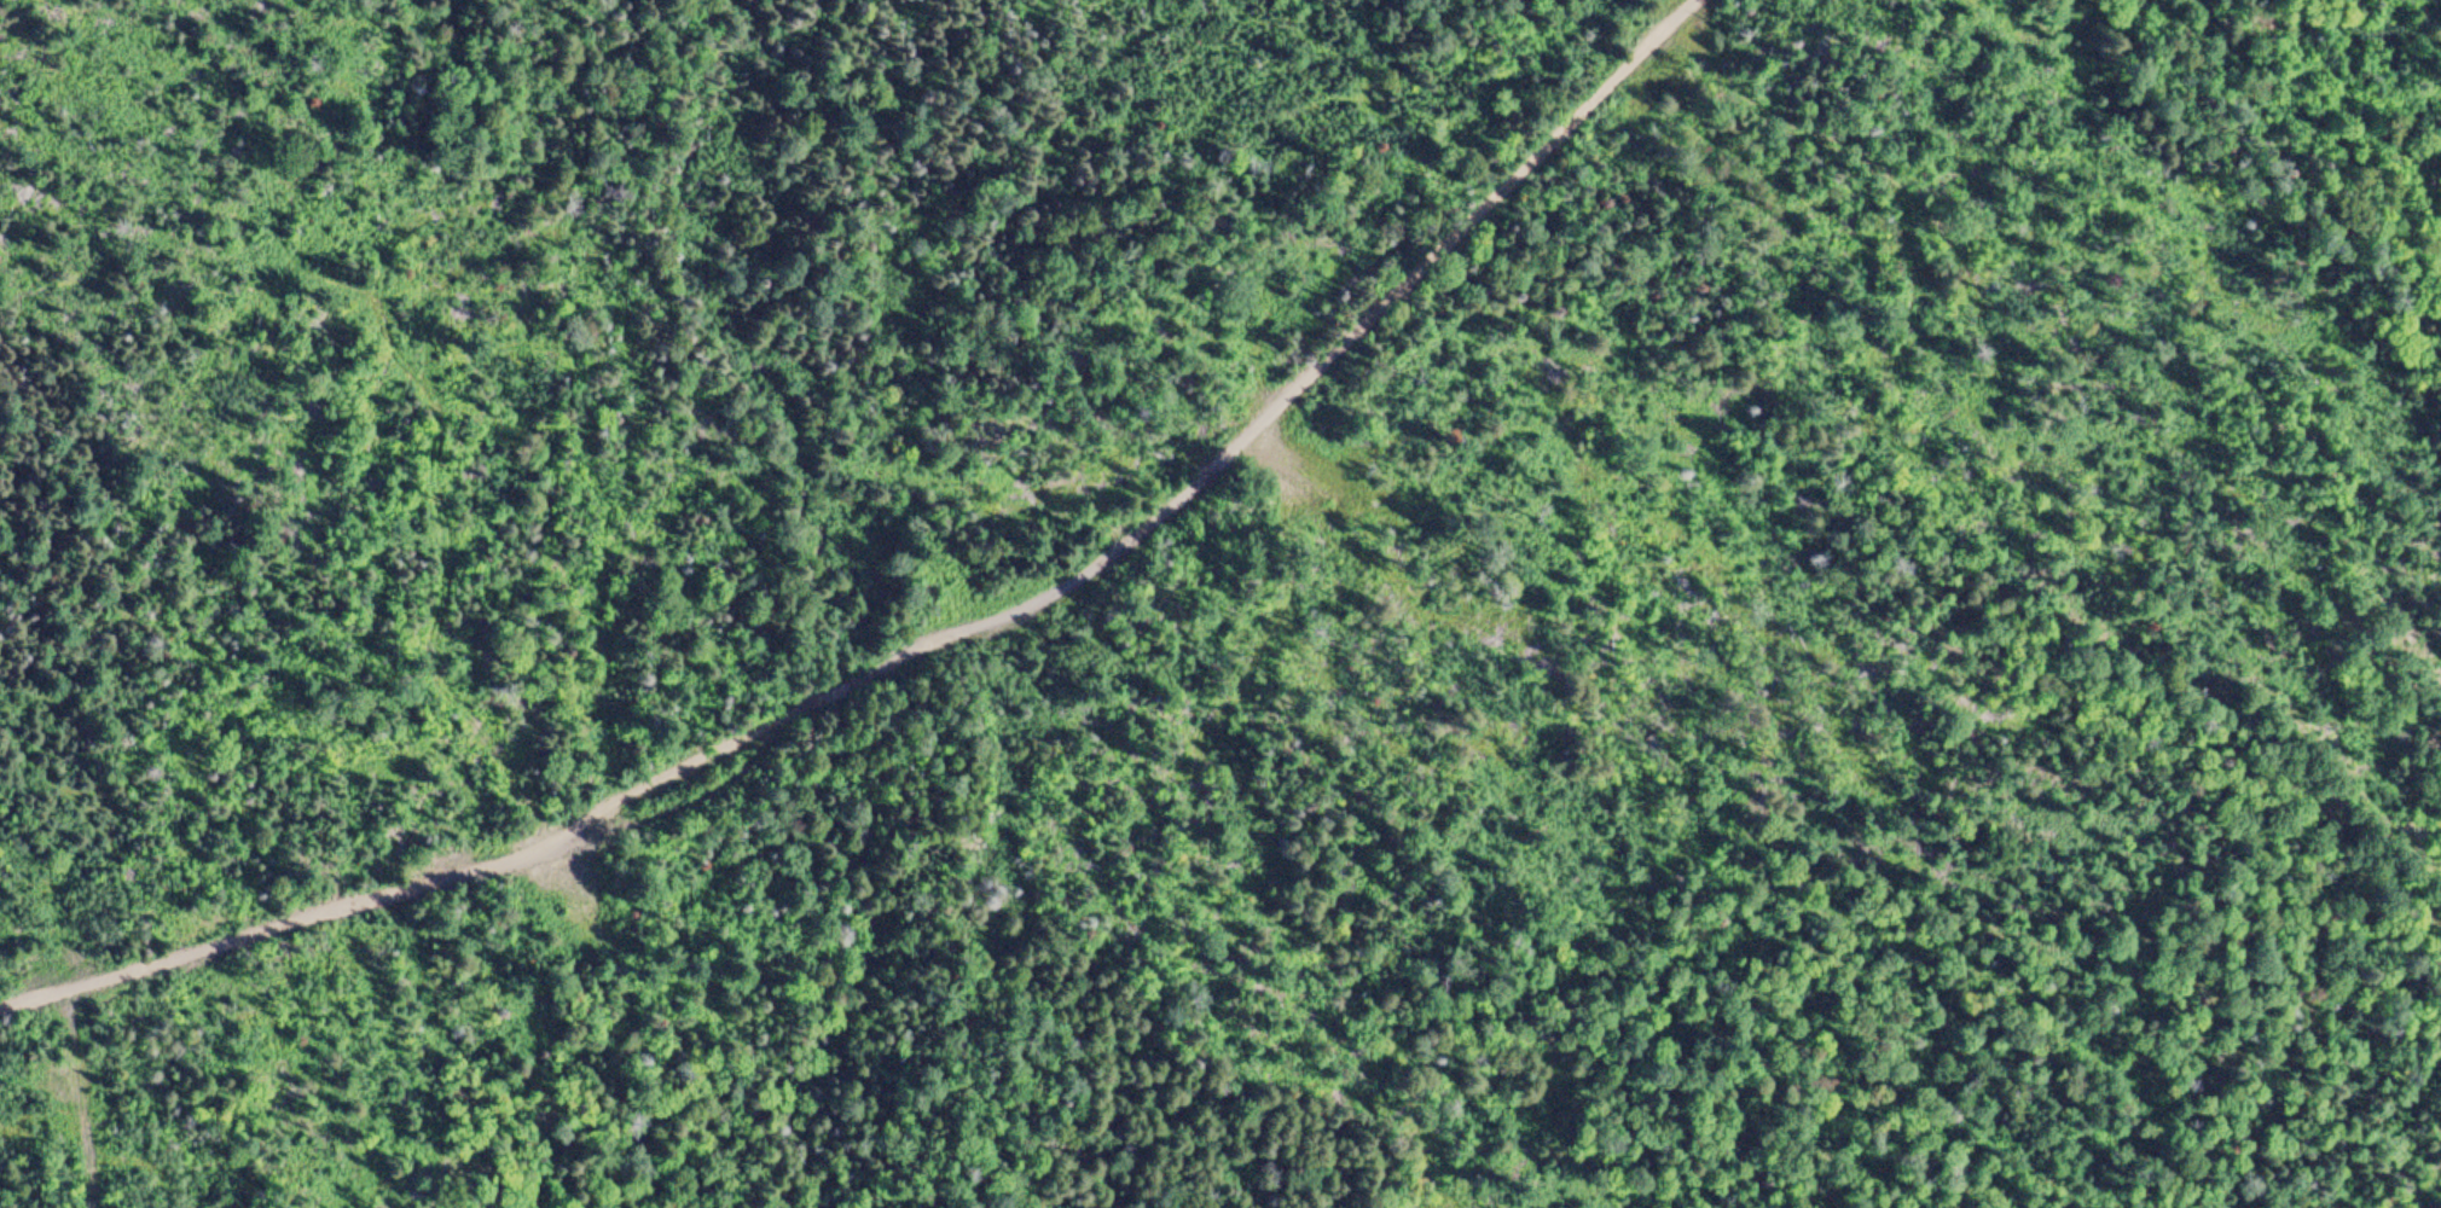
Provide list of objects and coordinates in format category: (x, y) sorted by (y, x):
road: (945, 652)

